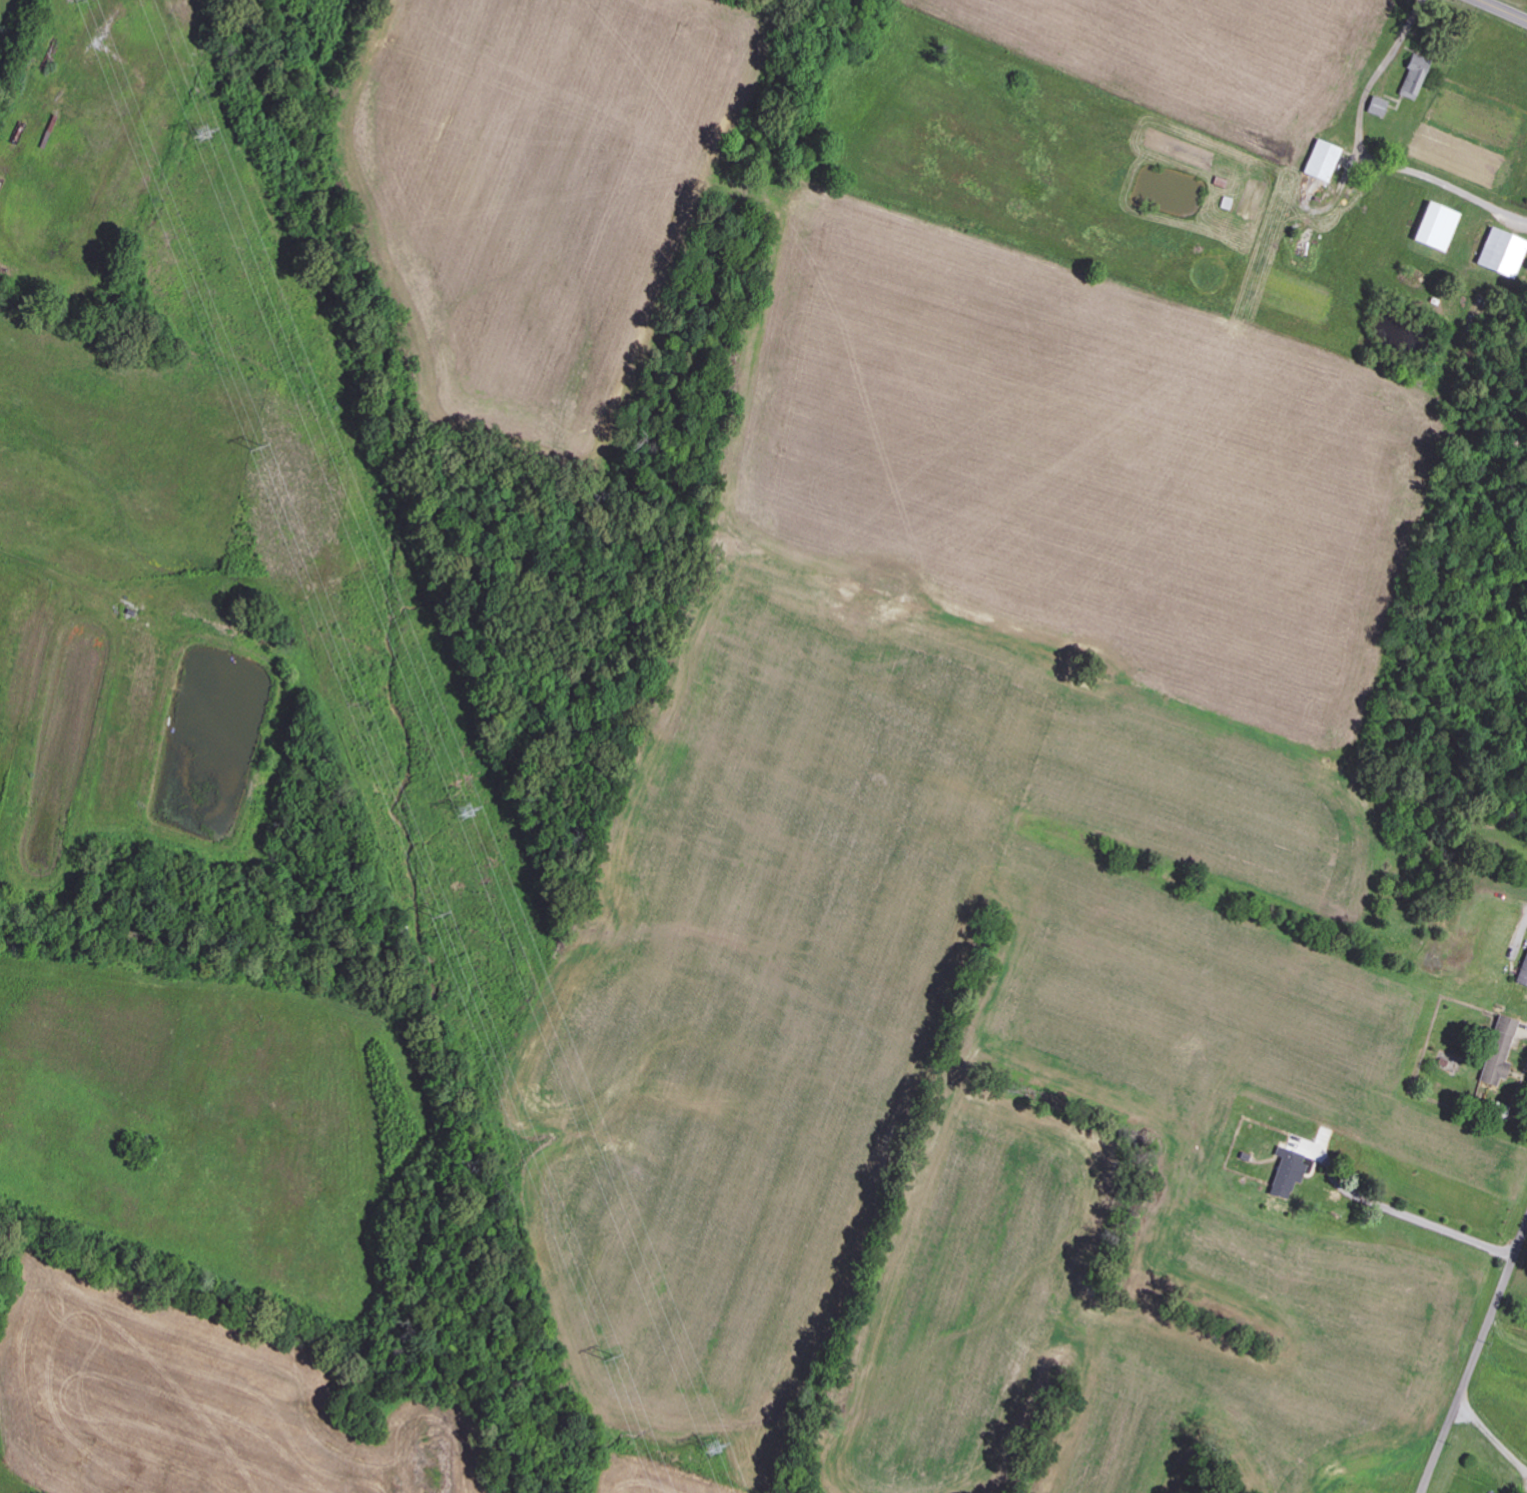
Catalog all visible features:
road: (1509, 7)
building: (1416, 76)
building: (1379, 106)
power tower: (211, 140)
building: (1323, 160)
building: (1438, 226)
building: (1302, 248)
building: (1503, 252)
power tower: (468, 810)
building: (1523, 975)
building: (1501, 1052)
road: (1474, 1350)
power tower: (714, 1448)

